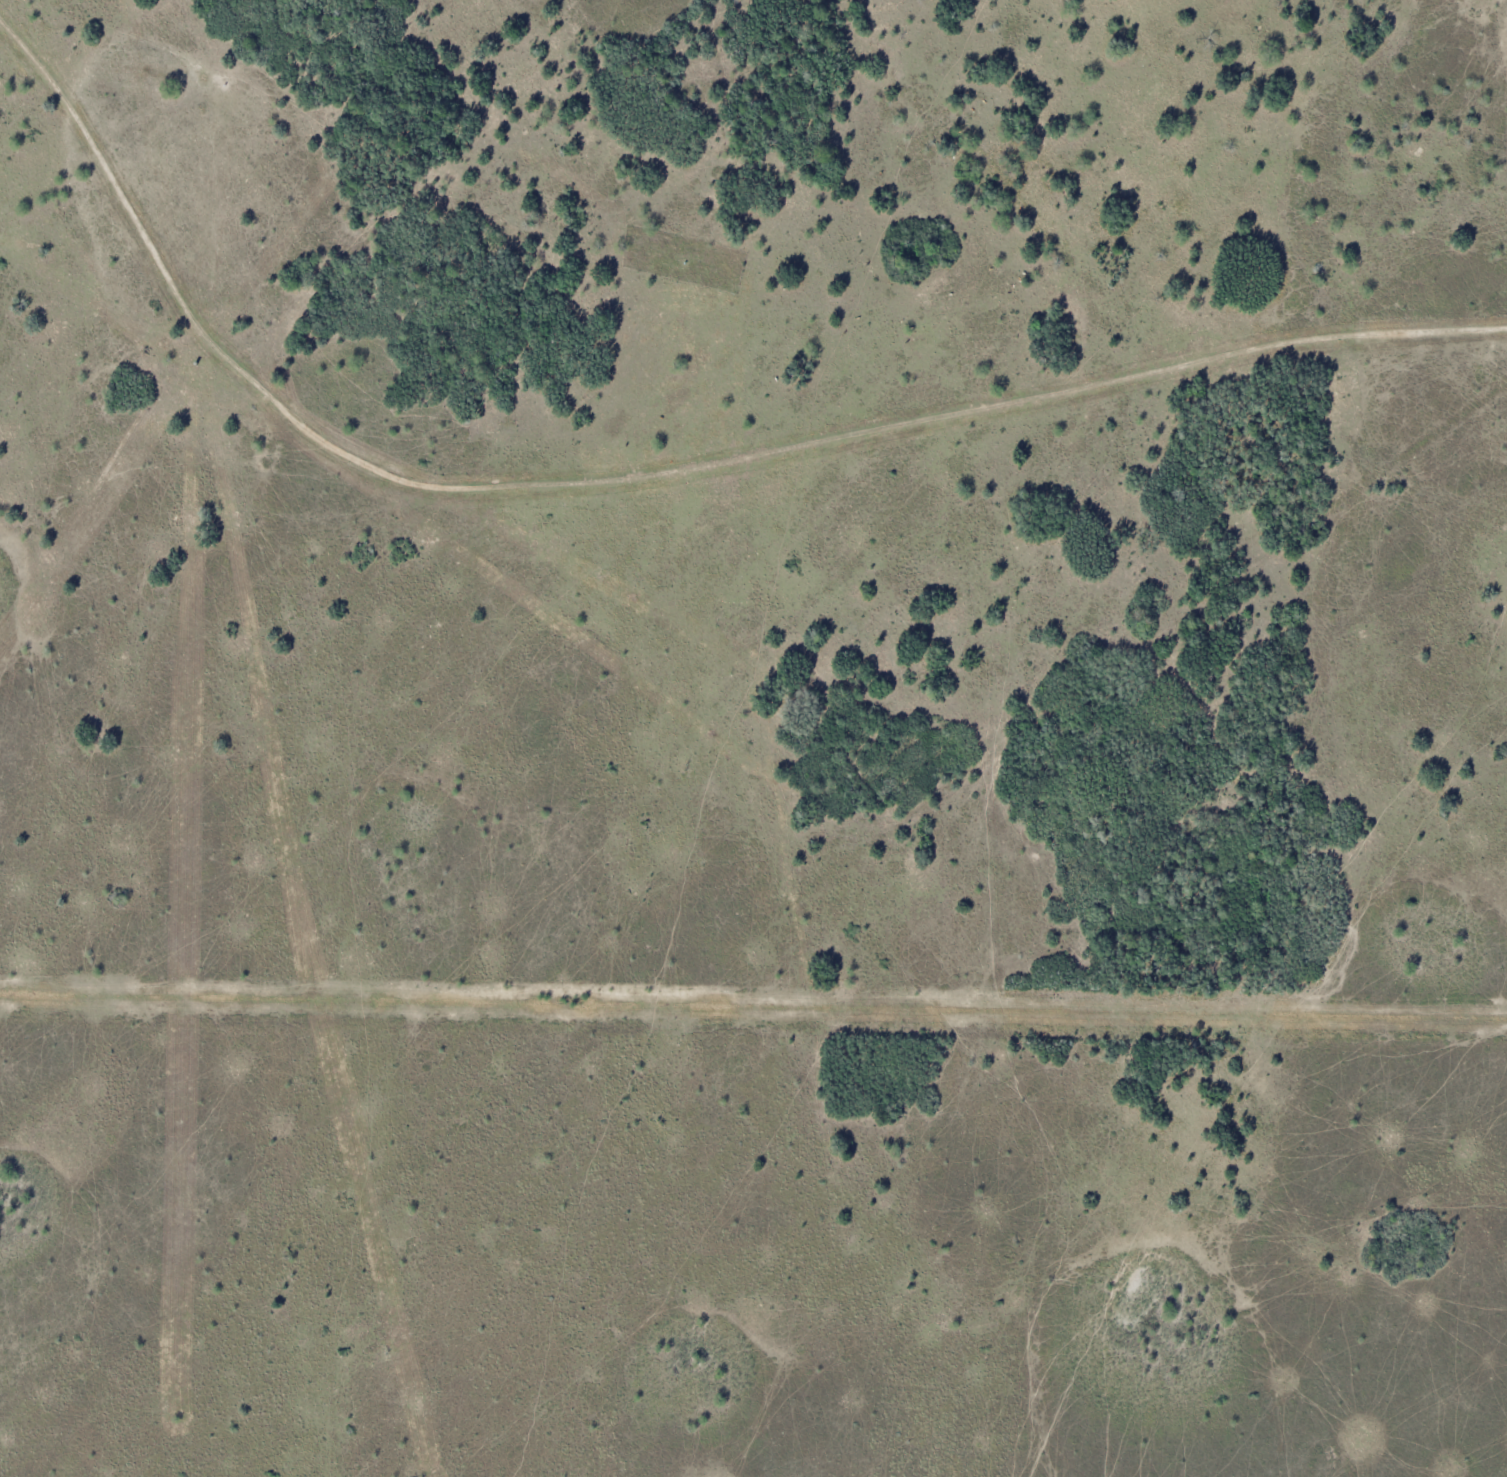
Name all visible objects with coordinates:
road: (1501, 82)

